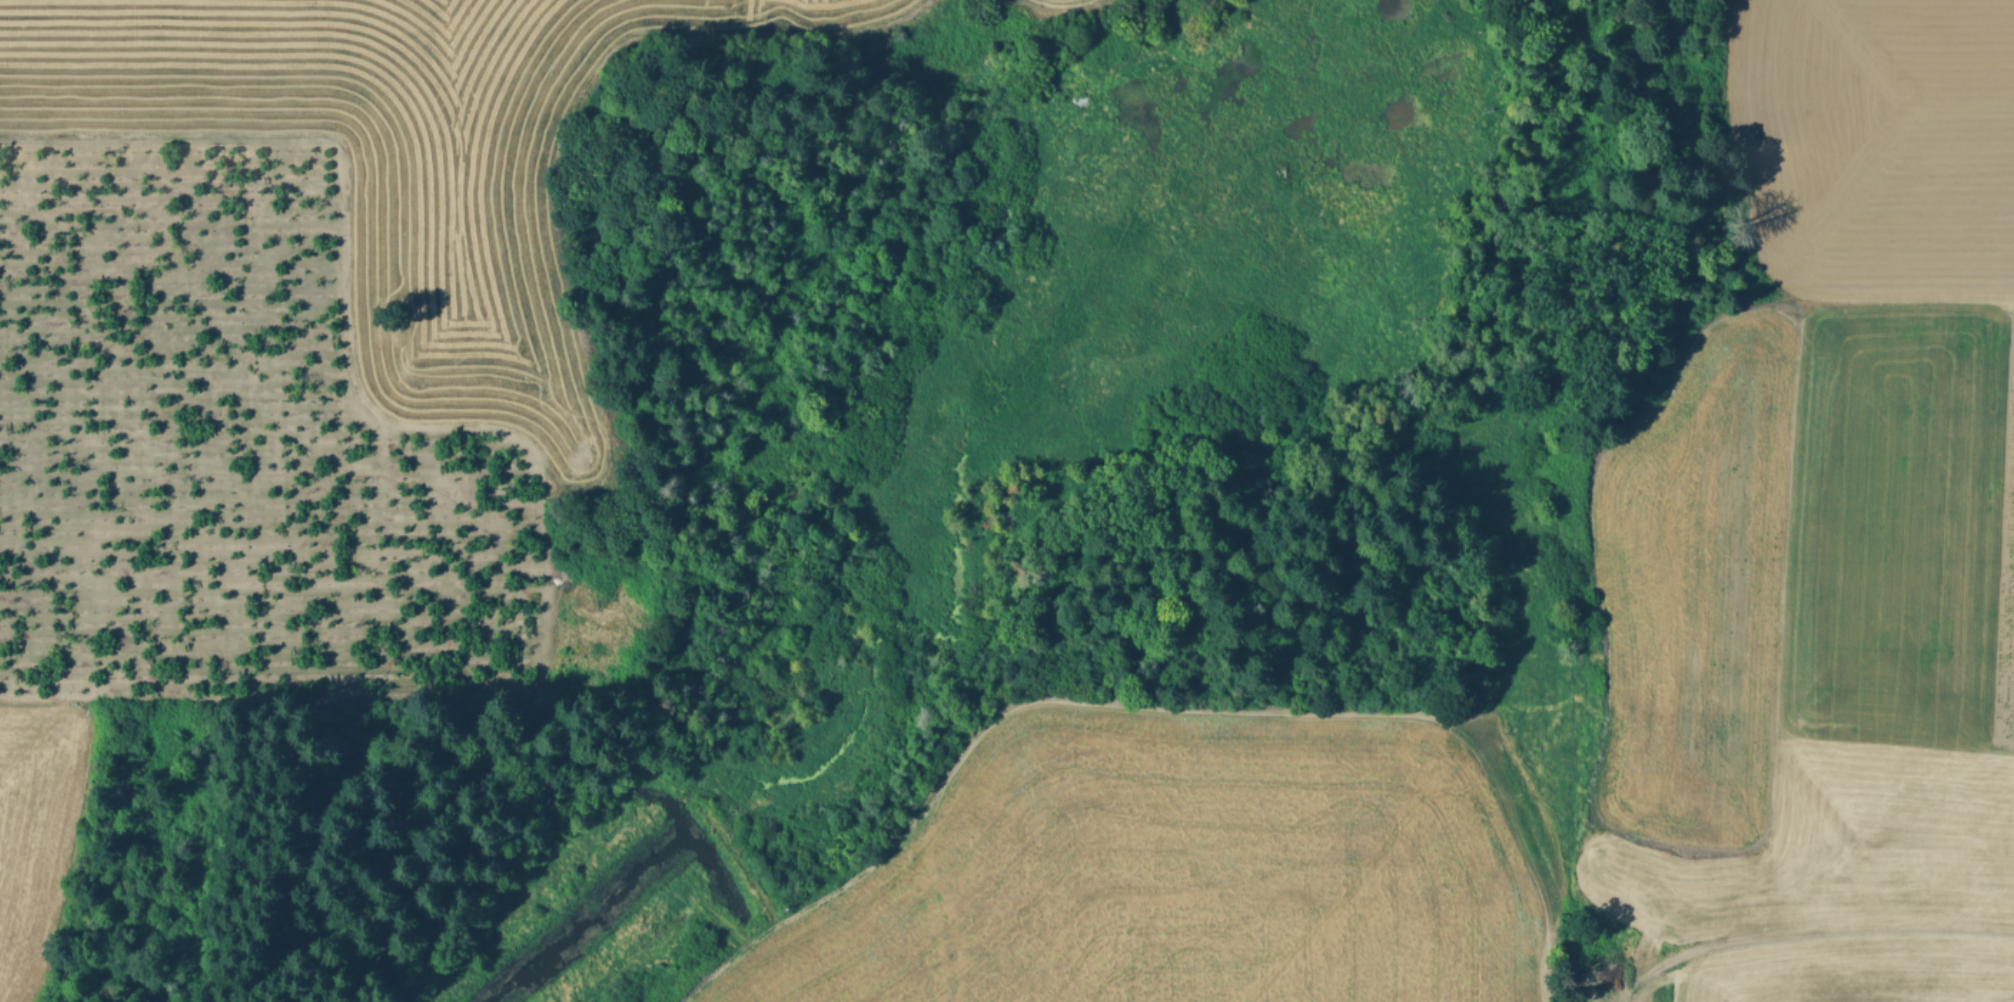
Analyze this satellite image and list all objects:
crop: (378, 151)
road: (529, 453)
road: (1807, 930)

